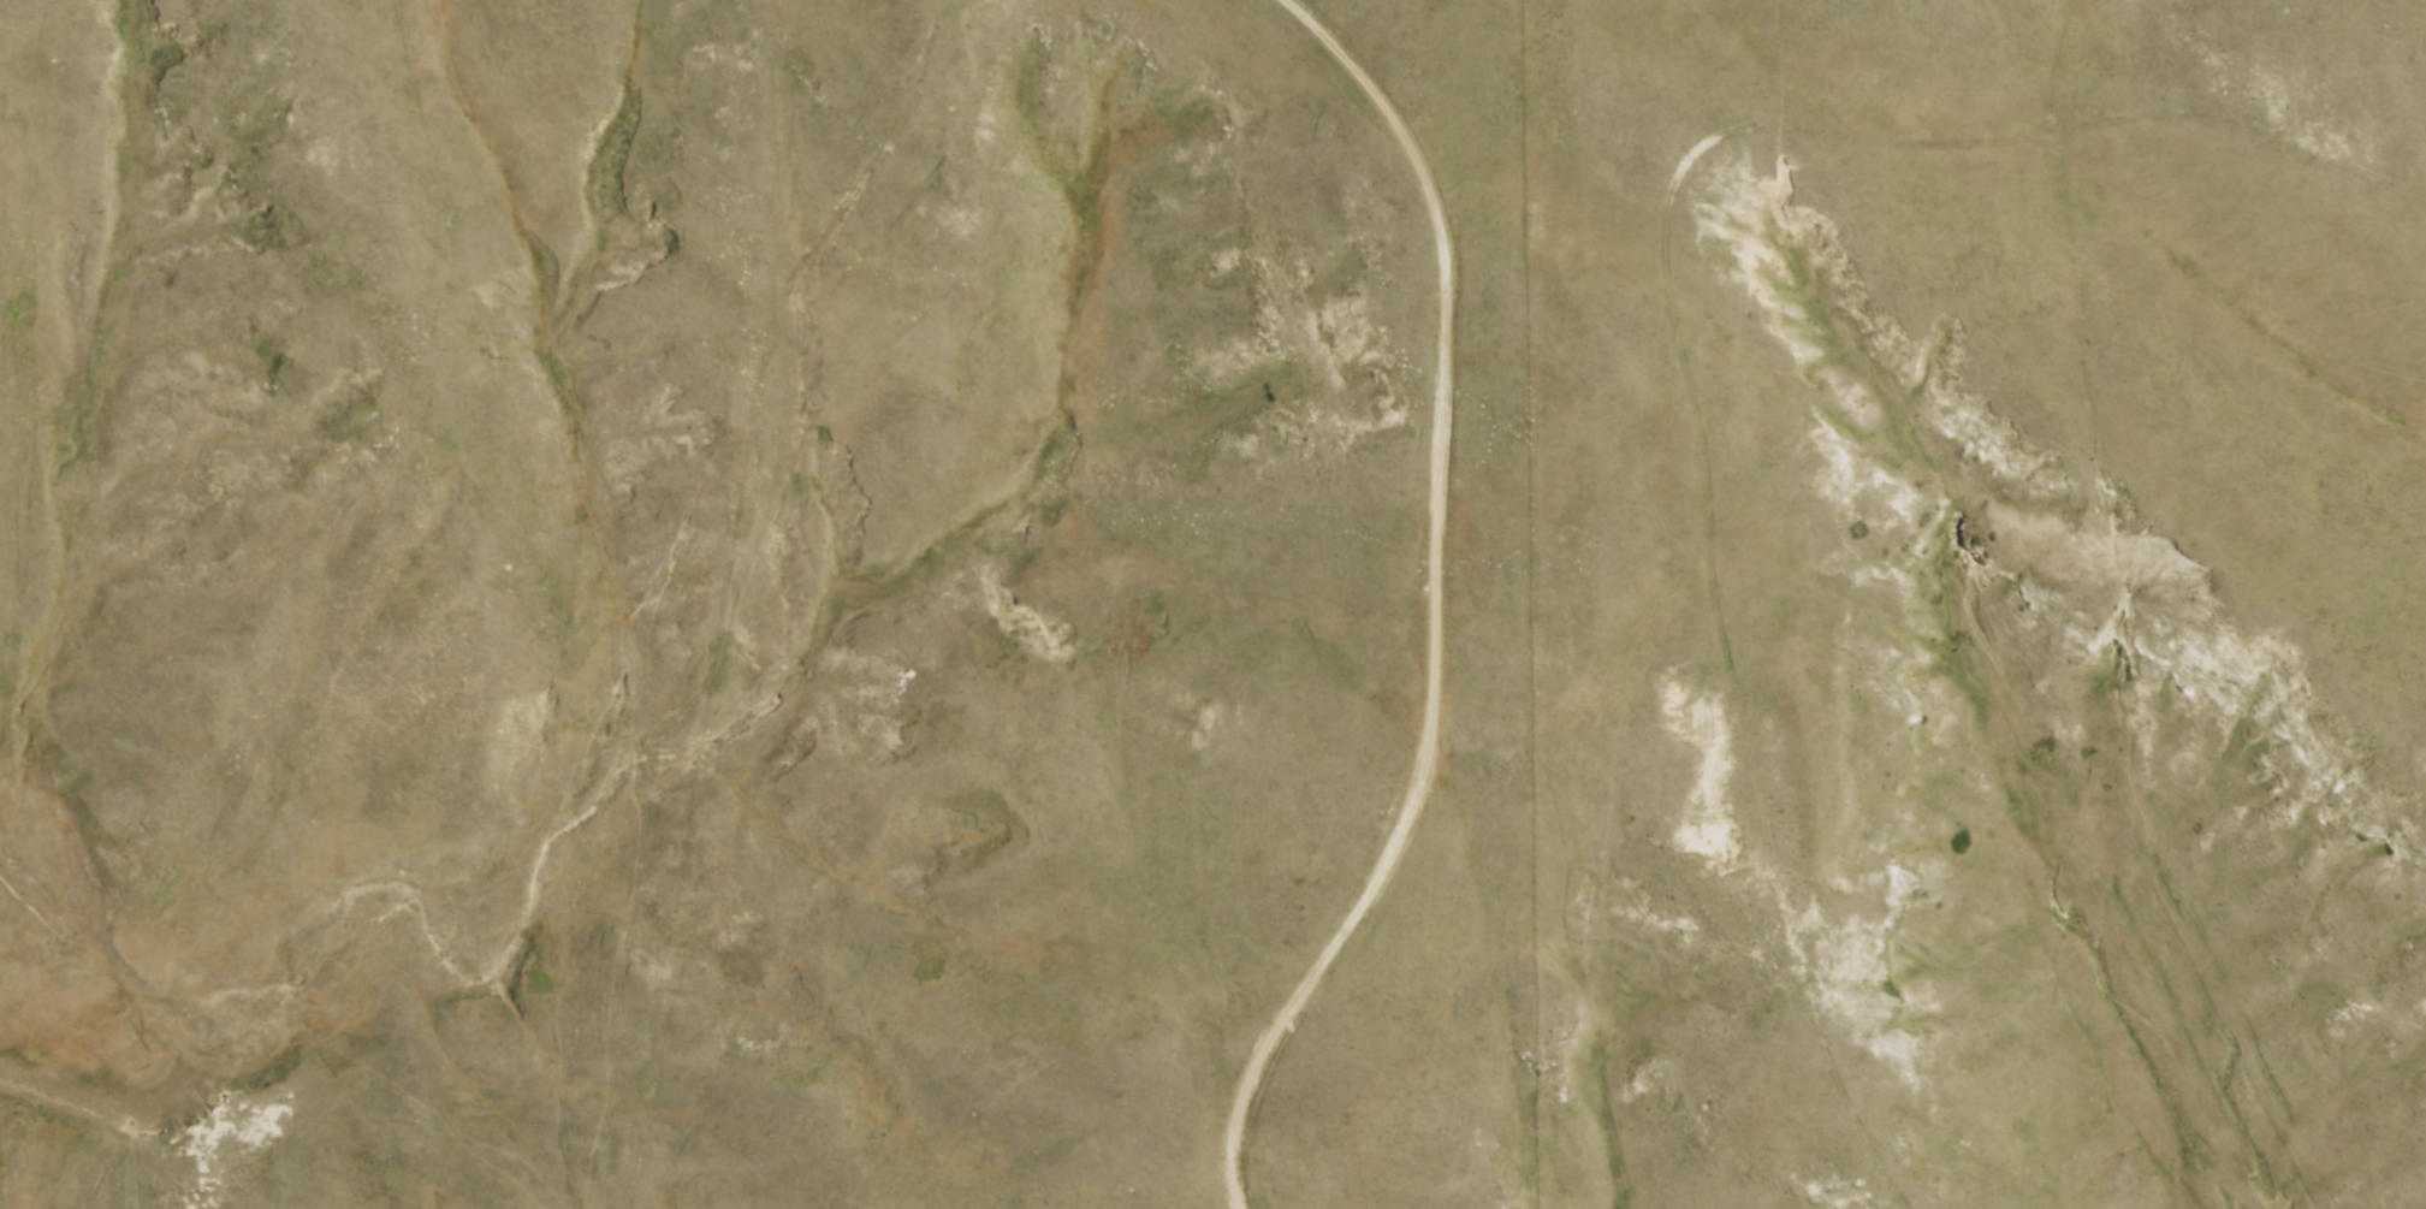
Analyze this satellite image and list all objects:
dam: (79, 1098)

